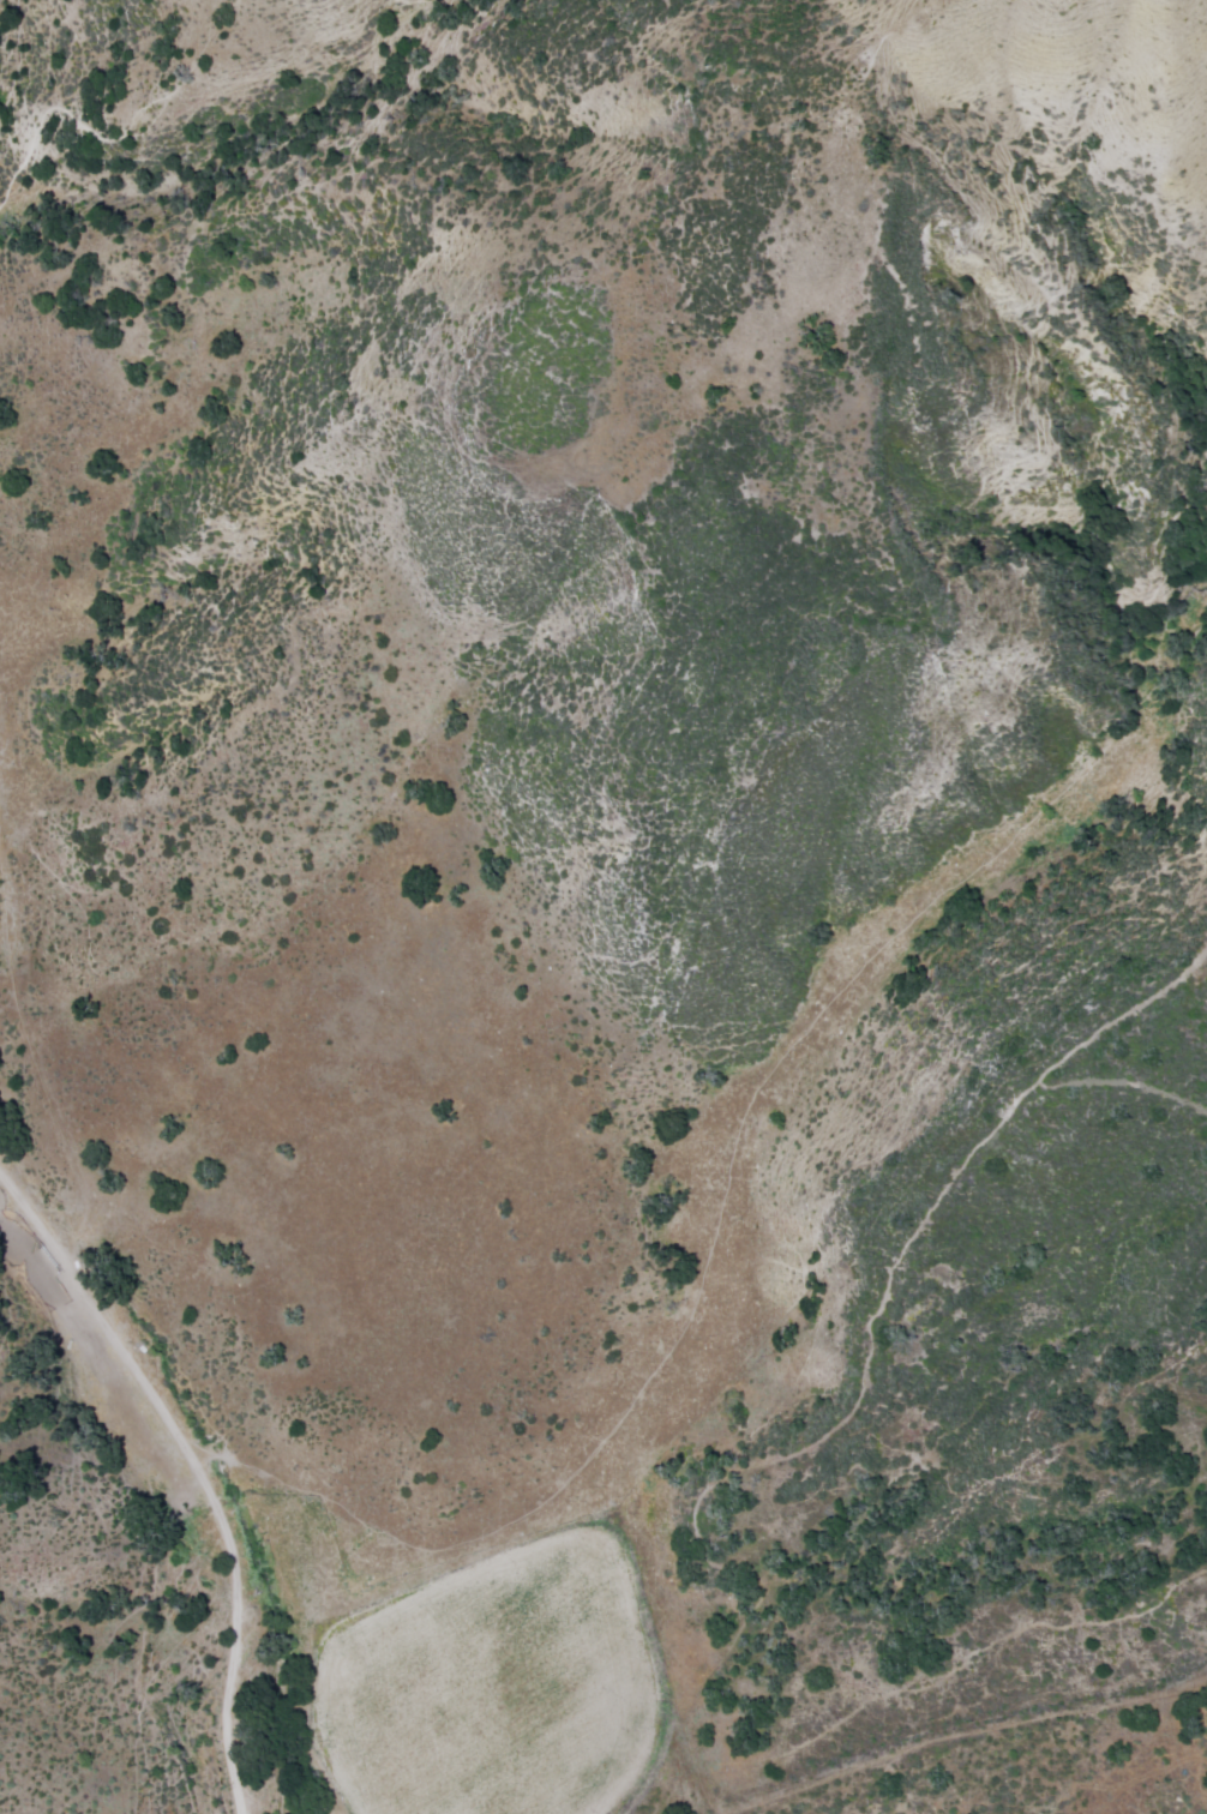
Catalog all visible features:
road: (198, 1465)
crop: (491, 1676)

